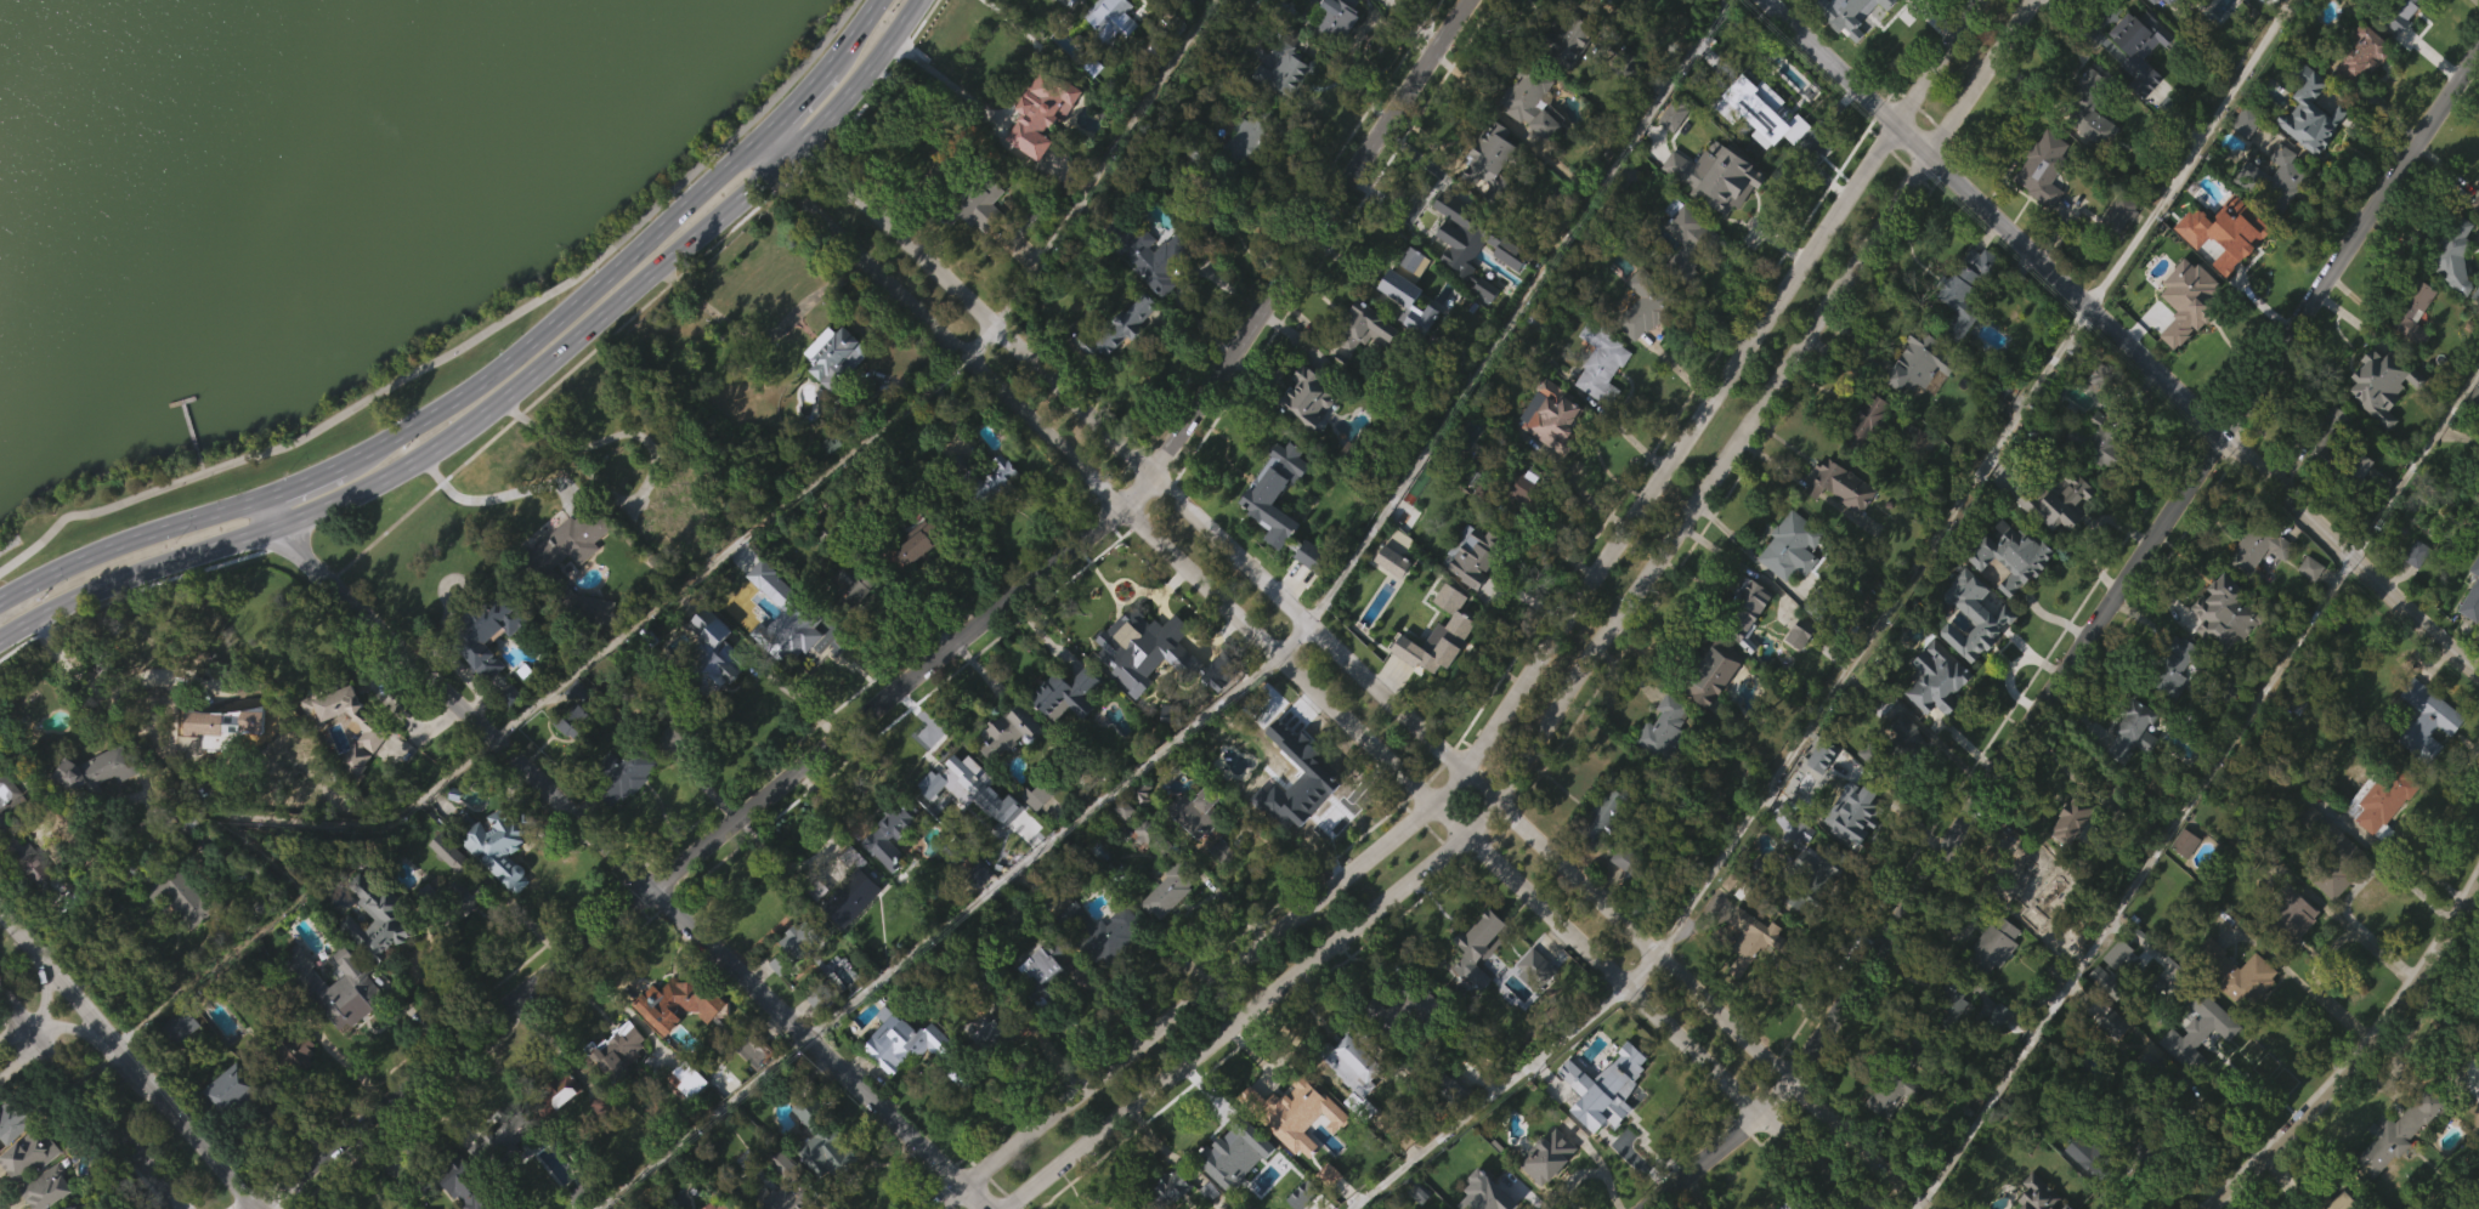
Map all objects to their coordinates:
building: (2150, 0)
building: (1614, 1)
building: (2166, 1)
building: (1182, 4)
building: (1370, 4)
building: (2389, 13)
building: (1330, 17)
building: (1113, 21)
building: (1860, 34)
building: (2123, 34)
building: (2236, 42)
building: (1573, 44)
building: (1335, 45)
building: (1110, 51)
building: (1155, 52)
building: (2355, 53)
building: (1635, 64)
road: (943, 78)
building: (1567, 78)
building: (2138, 84)
building: (2360, 90)
building: (1524, 92)
building: (2088, 107)
building: (1283, 108)
building: (1037, 113)
building: (2310, 113)
building: (2242, 120)
building: (1546, 121)
building: (1249, 134)
building: (1526, 141)
building: (2084, 144)
building: (2307, 147)
building: (1762, 148)
building: (1040, 151)
road: (2185, 151)
building: (1670, 152)
building: (1494, 158)
building: (2242, 158)
road: (1099, 163)
building: (2043, 168)
building: (1244, 174)
building: (2270, 178)
building: (1739, 182)
building: (1488, 189)
building: (979, 200)
building: (2041, 204)
building: (1206, 205)
building: (2121, 210)
building: (1714, 212)
building: (2270, 215)
park: (319, 216)
building: (1439, 216)
building: (2475, 237)
building: (979, 239)
building: (1691, 242)
building: (2236, 249)
building: (2116, 252)
building: (2450, 254)
building: (1160, 257)
building: (1471, 274)
building: (1685, 276)
building: (1405, 282)
building: (1966, 285)
building: (2449, 289)
building: (1147, 290)
building: (1410, 300)
road: (1518, 303)
building: (1643, 305)
building: (1397, 324)
building: (1483, 325)
building: (1960, 327)
building: (1119, 328)
building: (1363, 328)
road: (759, 331)
road: (2121, 335)
road: (977, 339)
building: (2185, 339)
building: (1642, 341)
road: (463, 344)
building: (1417, 353)
building: (832, 354)
building: (1369, 362)
building: (1600, 362)
building: (1915, 364)
building: (1114, 365)
road: (487, 376)
building: (2101, 378)
building: (2383, 384)
building: (833, 392)
road: (509, 395)
building: (1302, 397)
building: (1918, 398)
building: (1598, 401)
pier: (181, 402)
building: (1549, 415)
building: (1870, 419)
building: (2375, 421)
building: (865, 422)
pier: (189, 433)
building: (1306, 433)
building: (2095, 435)
building: (1920, 439)
building: (2322, 442)
building: (1549, 453)
building: (1863, 456)
building: (2095, 476)
building: (996, 478)
building: (2321, 481)
building: (1840, 484)
building: (1516, 490)
road: (496, 494)
building: (679, 495)
road: (624, 496)
building: (2056, 498)
building: (2358, 503)
building: (991, 513)
building: (1836, 521)
building: (1518, 523)
building: (1273, 527)
building: (2056, 537)
building: (916, 540)
building: (1793, 544)
road: (728, 545)
building: (1489, 549)
building: (2253, 550)
building: (2011, 554)
building: (533, 564)
building: (567, 579)
building: (917, 580)
building: (1787, 580)
building: (2252, 585)
building: (1468, 589)
building: (2416, 589)
building: (1307, 590)
building: (2009, 591)
building: (2470, 594)
building: (1388, 597)
building: (1824, 603)
building: (2307, 603)
building: (1751, 604)
building: (2224, 611)
building: (1973, 618)
building: (847, 621)
road: (1874, 624)
building: (1411, 628)
building: (2470, 629)
building: (792, 630)
road: (1298, 630)
building: (1799, 631)
building: (492, 632)
building: (585, 641)
building: (1126, 647)
building: (1743, 648)
building: (787, 649)
building: (2222, 649)
building: (718, 651)
building: (1973, 651)
building: (2179, 652)
road: (2081, 654)
road: (926, 659)
road: (1359, 659)
road: (1589, 665)
building: (485, 669)
building: (1439, 669)
building: (1796, 669)
road: (1528, 670)
building: (1713, 670)
road: (1312, 672)
building: (1945, 679)
building: (2172, 680)
building: (714, 685)
road: (796, 694)
building: (1065, 694)
building: (2288, 697)
building: (1205, 699)
building: (1709, 705)
road: (396, 709)
building: (1934, 715)
building: (567, 719)
building: (2427, 722)
building: (374, 726)
building: (2133, 726)
building: (1670, 727)
building: (685, 730)
building: (1063, 730)
building: (1006, 731)
building: (509, 732)
building: (1900, 749)
road: (19, 756)
building: (2424, 757)
building: (1839, 759)
building: (567, 760)
building: (1660, 764)
building: (370, 767)
building: (1006, 768)
building: (2130, 768)
building: (102, 770)
building: (623, 773)
building: (672, 774)
building: (949, 778)
building: (1292, 779)
building: (1819, 791)
building: (1037, 795)
building: (2382, 799)
building: (96, 806)
building: (1290, 807)
building: (622, 811)
building: (1202, 811)
building: (1857, 812)
building: (183, 816)
building: (1607, 817)
building: (2071, 818)
building: (12, 822)
building: (968, 824)
building: (1148, 836)
building: (2185, 842)
building: (500, 844)
building: (1122, 844)
building: (1194, 847)
building: (1853, 847)
road: (1281, 851)
building: (446, 852)
building: (889, 852)
building: (1598, 852)
building: (2334, 855)
building: (2068, 856)
building: (189, 862)
road: (623, 862)
building: (2319, 862)
building: (1794, 868)
building: (888, 869)
building: (40, 870)
building: (1144, 870)
building: (1816, 875)
building: (2034, 875)
building: (2181, 878)
building: (497, 882)
building: (16, 885)
building: (1173, 887)
building: (1219, 887)
building: (182, 895)
building: (1623, 896)
building: (452, 901)
building: (1812, 903)
building: (36, 906)
building: (2030, 914)
building: (2283, 914)
building: (379, 916)
building: (2330, 918)
building: (465, 927)
building: (1102, 931)
building: (1162, 931)
building: (179, 932)
building: (849, 932)
building: (1477, 935)
building: (1758, 940)
building: (1998, 943)
building: (791, 948)
building: (2290, 952)
building: (375, 954)
building: (1036, 964)
building: (1098, 967)
building: (1540, 967)
building: (794, 976)
building: (1750, 976)
building: (2236, 976)
building: (1991, 980)
building: (1476, 982)
building: (343, 986)
road: (170, 991)
building: (2116, 991)
road: (43, 992)
building: (817, 998)
building: (779, 999)
building: (683, 1001)
road: (2326, 1001)
building: (1534, 1003)
building: (1952, 1005)
building: (2232, 1007)
building: (1040, 1009)
building: (1404, 1010)
building: (2098, 1011)
building: (335, 1023)
building: (2185, 1023)
building: (2112, 1024)
building: (183, 1026)
road: (72, 1028)
building: (998, 1028)
building: (815, 1034)
road: (15, 1037)
building: (675, 1038)
building: (1949, 1040)
building: (909, 1043)
building: (1398, 1045)
building: (753, 1049)
building: (621, 1050)
building: (299, 1051)
building: (1996, 1051)
road: (129, 1058)
building: (1358, 1058)
road: (2354, 1058)
building: (2111, 1060)
building: (181, 1061)
building: (2195, 1063)
building: (992, 1066)
building: (899, 1075)
building: (1909, 1078)
building: (683, 1079)
road: (1510, 1080)
building: (616, 1084)
building: (748, 1088)
building: (1450, 1088)
building: (294, 1089)
building: (1621, 1090)
building: (2150, 1090)
building: (237, 1091)
building: (560, 1094)
road: (97, 1099)
building: (1349, 1100)
building: (1285, 1111)
building: (685, 1114)
building: (13, 1120)
building: (230, 1125)
building: (556, 1128)
building: (1886, 1129)
building: (2395, 1133)
building: (504, 1142)
building: (823, 1142)
building: (1239, 1146)
building: (1289, 1147)
building: (2099, 1151)
building: (1549, 1156)
building: (26, 1157)
building: (2394, 1169)
road: (1590, 1170)
building: (820, 1177)
building: (497, 1179)
building: (468, 1184)
building: (47, 1187)
building: (1171, 1188)
building: (1546, 1188)
building: (23, 1191)
building: (2083, 1191)
building: (587, 1192)
building: (785, 1194)
road: (170, 1196)
building: (2038, 1196)
building: (1801, 1201)
road: (4, 1202)
road: (1920, 1202)
building: (2336, 1202)
building: (455, 1203)
building: (1325, 1204)
building: (53, 1205)
building: (713, 1205)
building: (73, 1207)
road: (250, 1207)
building: (1175, 1207)
building: (1476, 1207)
building: (1502, 1207)

